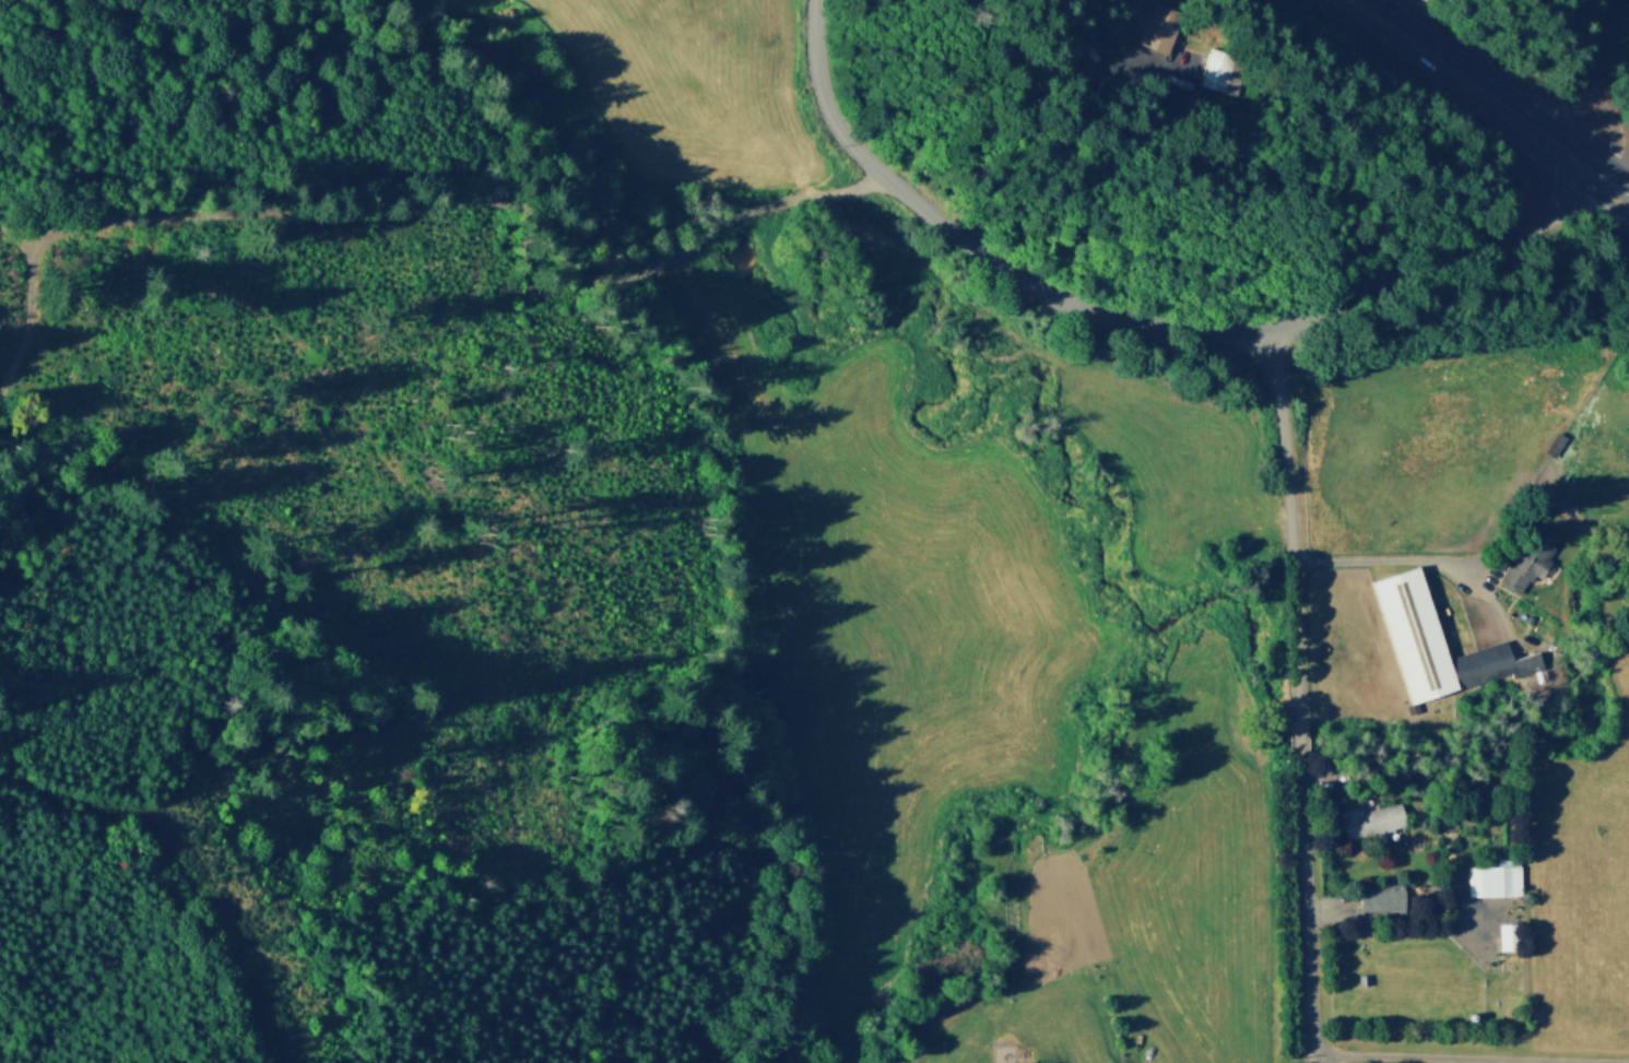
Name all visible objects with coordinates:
road: (1359, 3)
building: (1134, 23)
road: (1448, 66)
building: (1197, 70)
road: (1593, 92)
road: (1563, 150)
road: (1225, 170)
road: (1600, 177)
road: (1542, 179)
road: (1616, 188)
road: (408, 202)
road: (1561, 206)
road: (22, 221)
road: (1088, 310)
road: (737, 345)
road: (709, 350)
building: (1551, 440)
road: (1287, 516)
road: (1428, 556)
building: (1525, 556)
road: (1473, 559)
building: (1525, 616)
building: (1431, 640)
building: (1409, 706)
road: (1298, 735)
building: (1367, 817)
road: (179, 831)
building: (1491, 876)
building: (1378, 895)
road: (1303, 913)
building: (1506, 934)
building: (1360, 978)
road: (1473, 1056)
building: (1017, 1062)
road: (1324, 1062)

